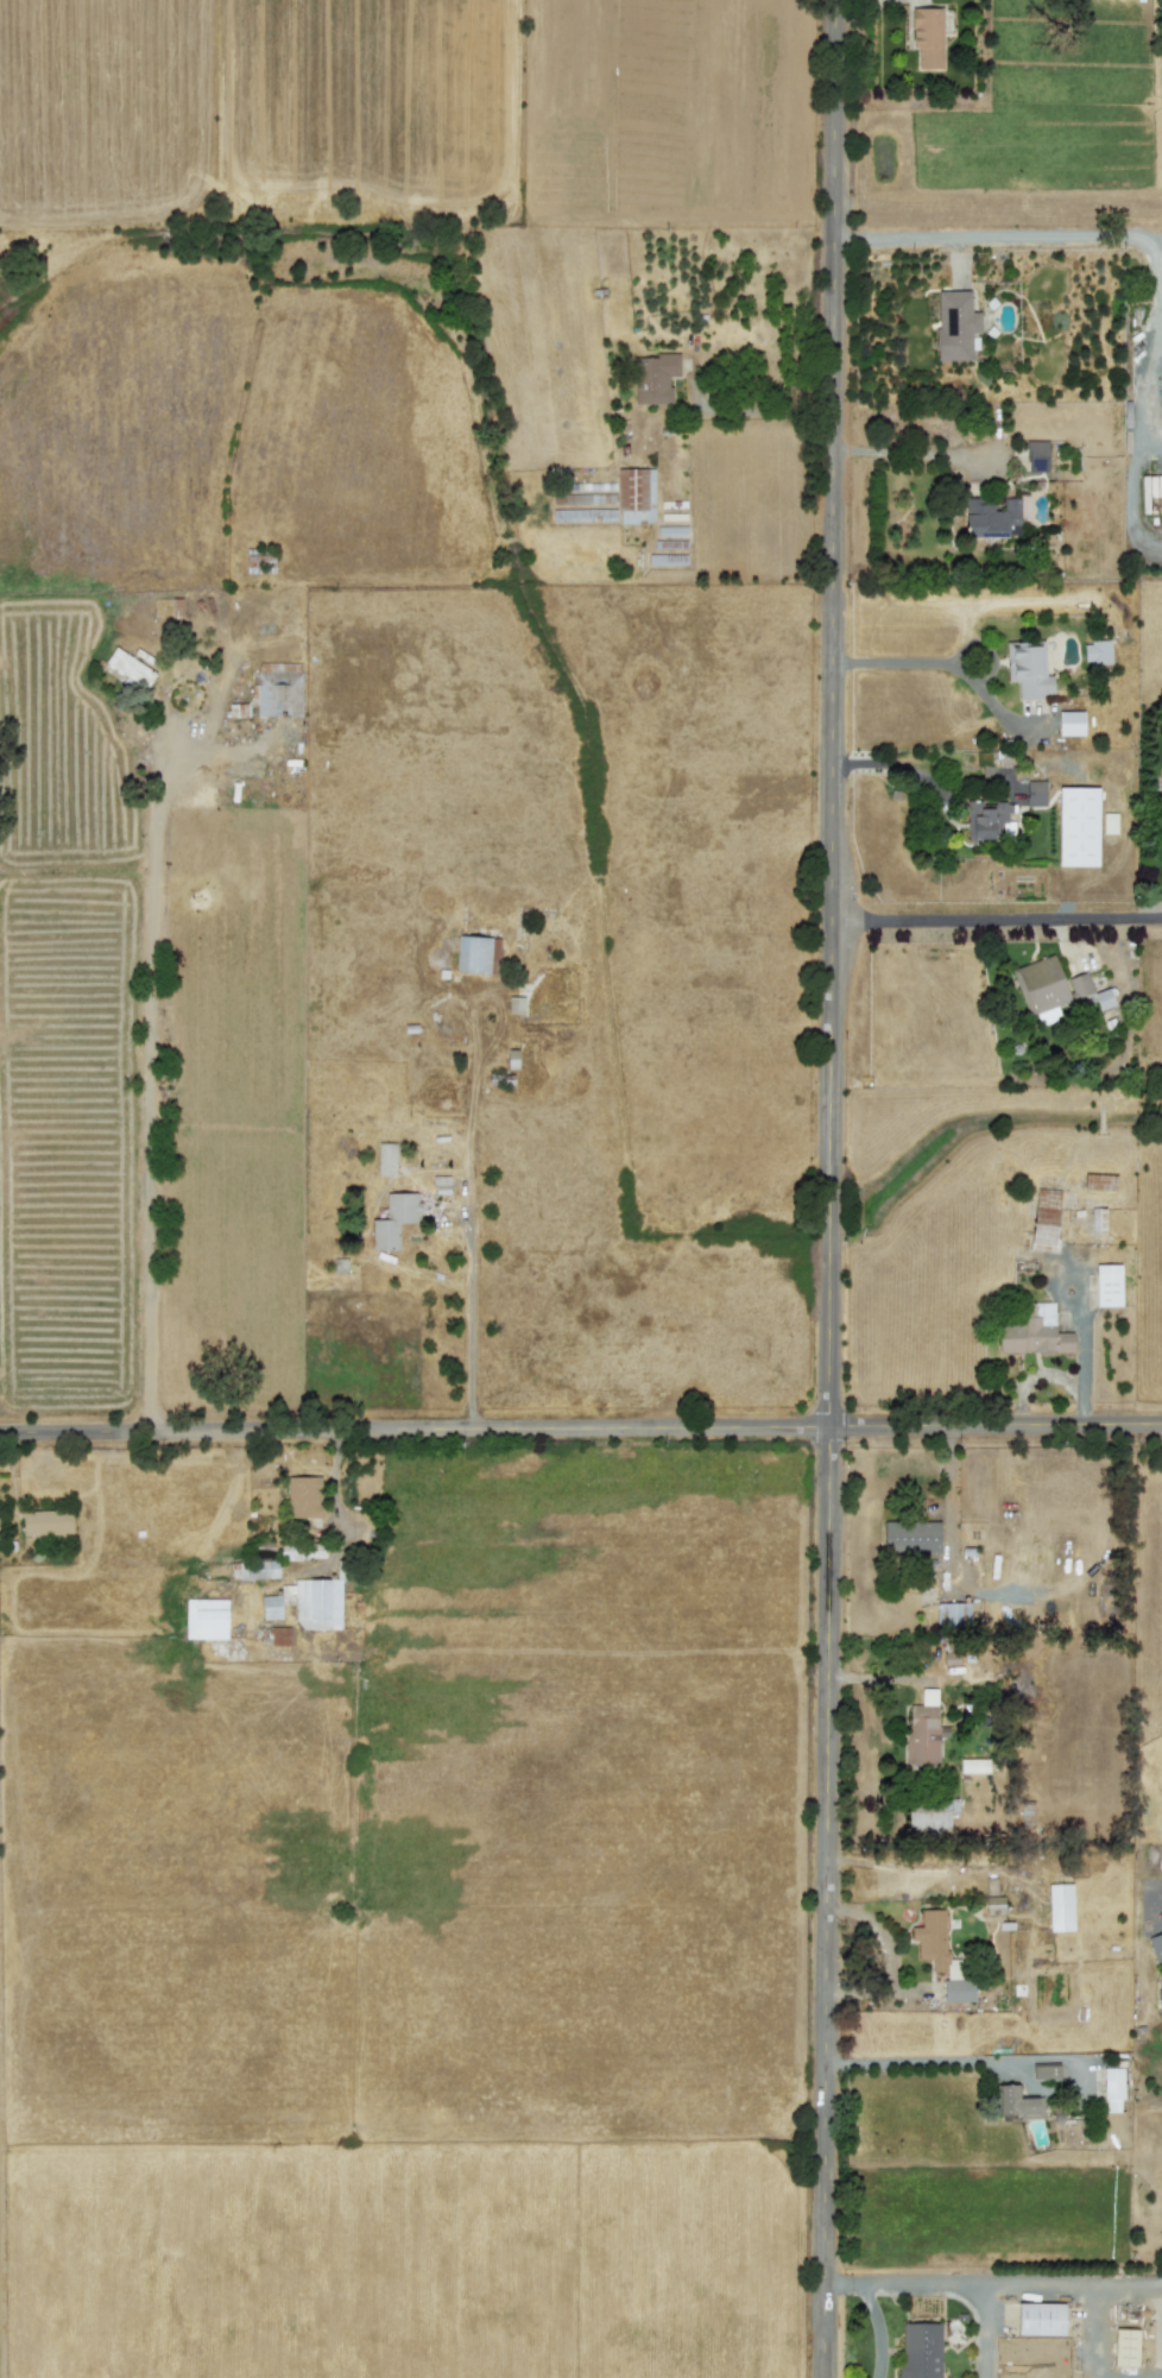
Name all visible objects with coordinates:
building: (927, 36)
crop: (588, 128)
road: (1097, 232)
building: (955, 323)
building: (655, 377)
building: (1161, 386)
road: (764, 408)
road: (1156, 448)
road: (911, 453)
building: (1036, 455)
building: (636, 494)
road: (1131, 503)
building: (992, 517)
road: (951, 661)
building: (130, 667)
building: (1028, 668)
building: (279, 690)
building: (1071, 721)
road: (898, 764)
building: (1035, 791)
building: (985, 819)
building: (1078, 825)
road: (997, 917)
building: (476, 953)
building: (1040, 984)
building: (1079, 984)
building: (1103, 997)
building: (516, 1003)
road: (149, 1070)
building: (385, 1158)
building: (441, 1182)
road: (832, 1188)
building: (393, 1219)
building: (1107, 1285)
road: (469, 1320)
building: (1034, 1330)
road: (581, 1426)
building: (303, 1495)
road: (948, 1499)
building: (46, 1521)
building: (910, 1534)
building: (302, 1548)
building: (259, 1569)
building: (314, 1601)
building: (271, 1606)
building: (951, 1613)
building: (206, 1617)
building: (279, 1635)
road: (888, 1677)
crop: (370, 1692)
building: (924, 1732)
building: (973, 1765)
building: (932, 1812)
road: (857, 1859)
building: (1060, 1906)
building: (1156, 1944)
building: (941, 1954)
road: (889, 1957)
road: (926, 2064)
building: (1046, 2070)
building: (1112, 2088)
building: (1017, 2101)
road: (989, 2283)
building: (1040, 2317)
road: (878, 2328)
road: (987, 2330)
road: (1098, 2334)
building: (1125, 2346)
building: (921, 2349)

